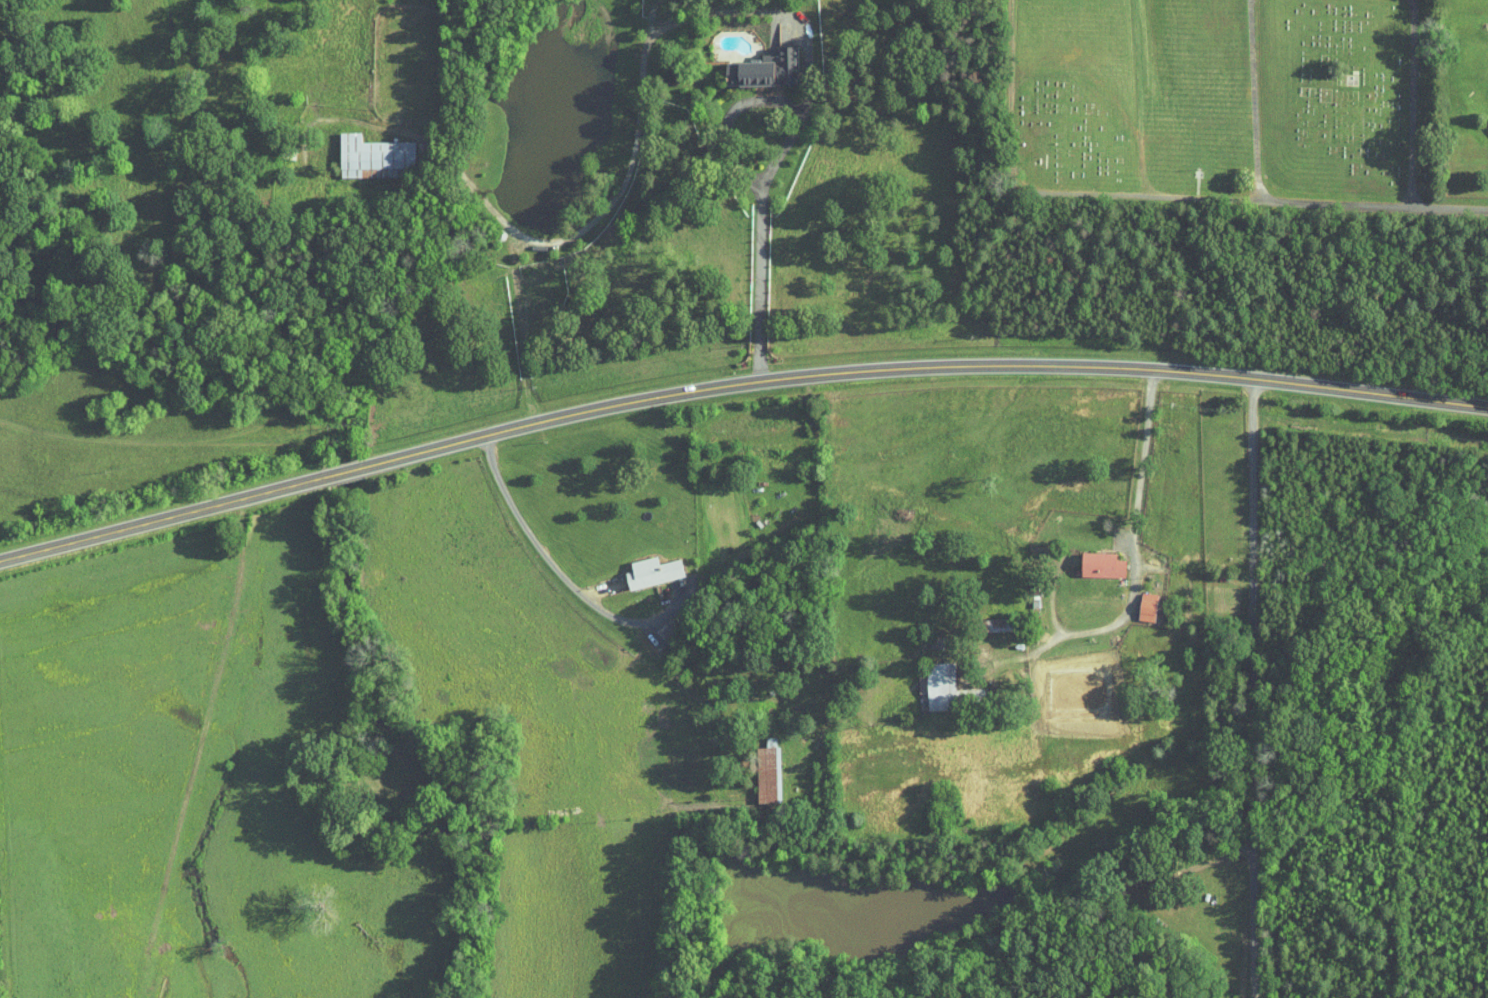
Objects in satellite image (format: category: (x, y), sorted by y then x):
building: (753, 62)
road: (639, 102)
park: (1219, 103)
building: (1487, 115)
building: (362, 150)
road: (774, 162)
road: (1272, 201)
road: (920, 367)
road: (343, 472)
road: (162, 518)
building: (1090, 558)
building: (641, 565)
road: (1133, 568)
road: (557, 569)
building: (1136, 600)
building: (983, 619)
building: (929, 680)
road: (1252, 688)
building: (756, 765)

